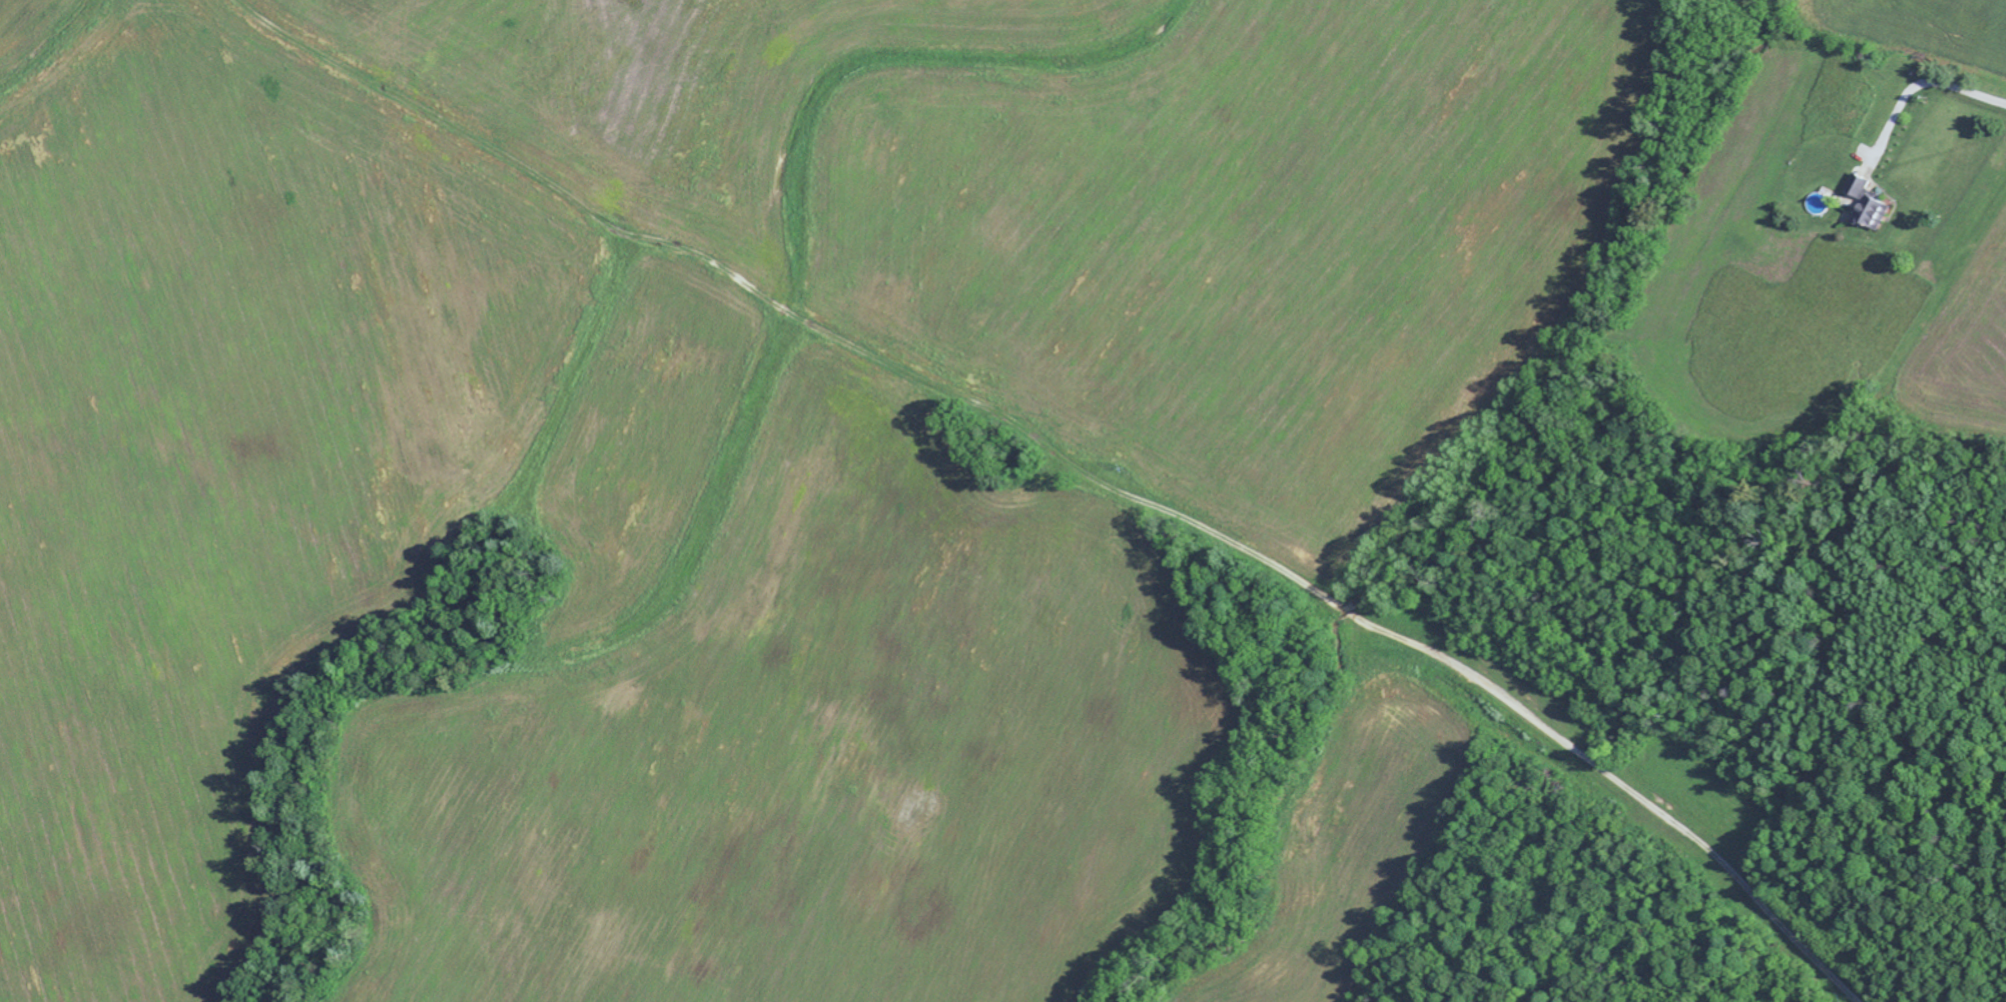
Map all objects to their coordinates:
road: (1967, 93)
road: (1892, 118)
building: (1865, 204)
road: (1557, 736)

